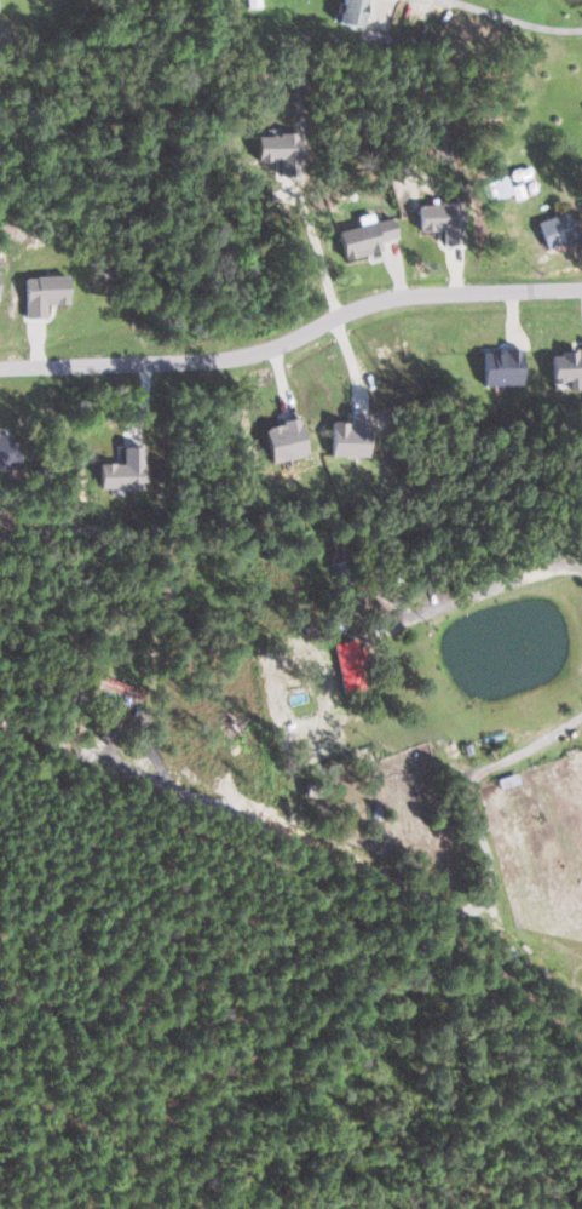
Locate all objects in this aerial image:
building: (253, 2)
building: (351, 11)
road: (513, 18)
building: (281, 149)
building: (503, 189)
building: (443, 218)
building: (559, 229)
building: (365, 235)
road: (317, 250)
building: (44, 293)
road: (293, 338)
building: (502, 366)
building: (566, 368)
building: (350, 435)
building: (284, 439)
building: (10, 452)
building: (123, 469)
road: (489, 586)
building: (348, 663)
building: (119, 686)
road: (529, 746)
road: (305, 836)

